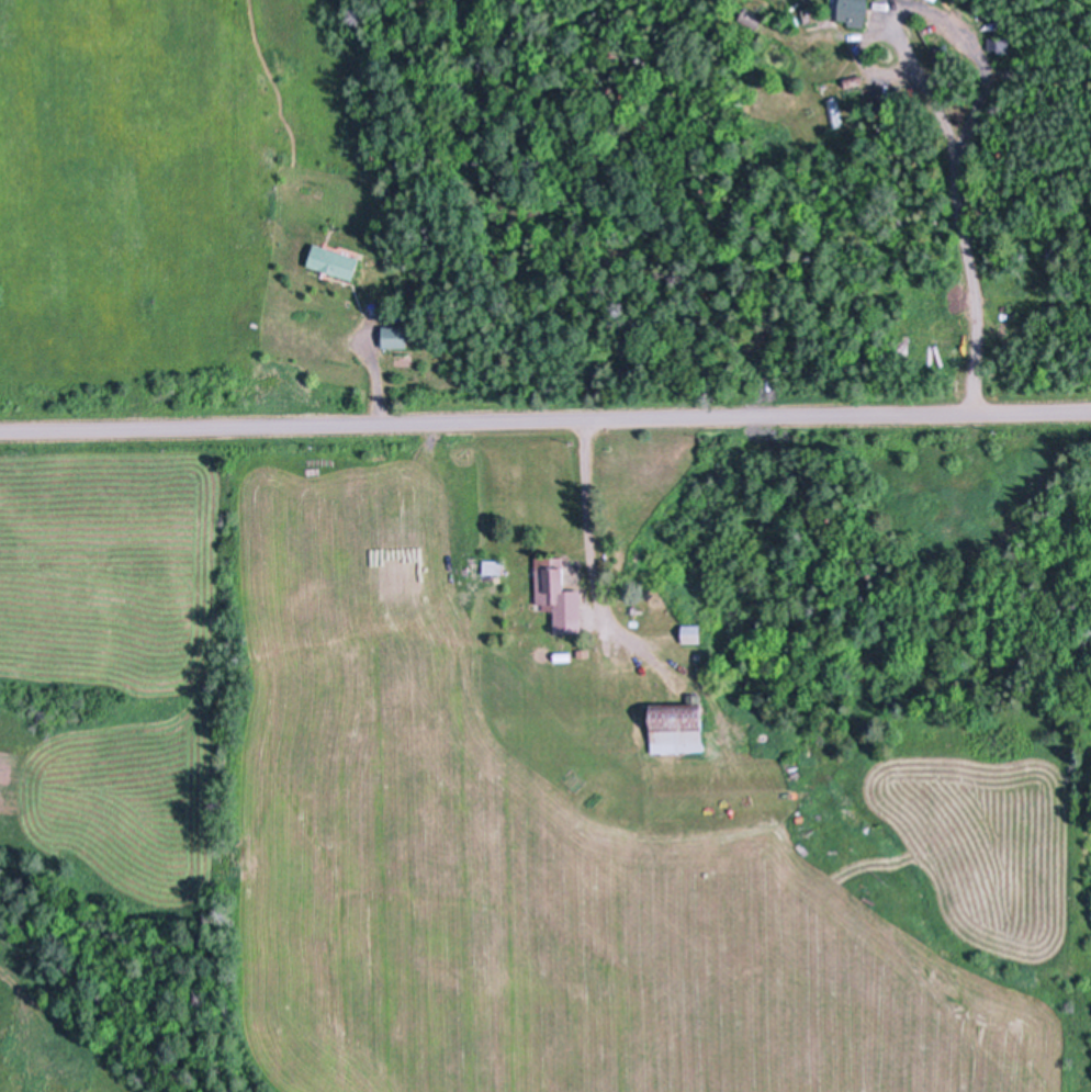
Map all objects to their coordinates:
building: (934, 0)
building: (856, 11)
building: (811, 12)
building: (751, 16)
building: (1001, 42)
building: (855, 79)
building: (834, 111)
road: (956, 217)
building: (336, 259)
building: (398, 335)
road: (544, 421)
road: (591, 547)
building: (496, 565)
building: (755, 583)
building: (560, 593)
building: (694, 632)
building: (679, 724)

